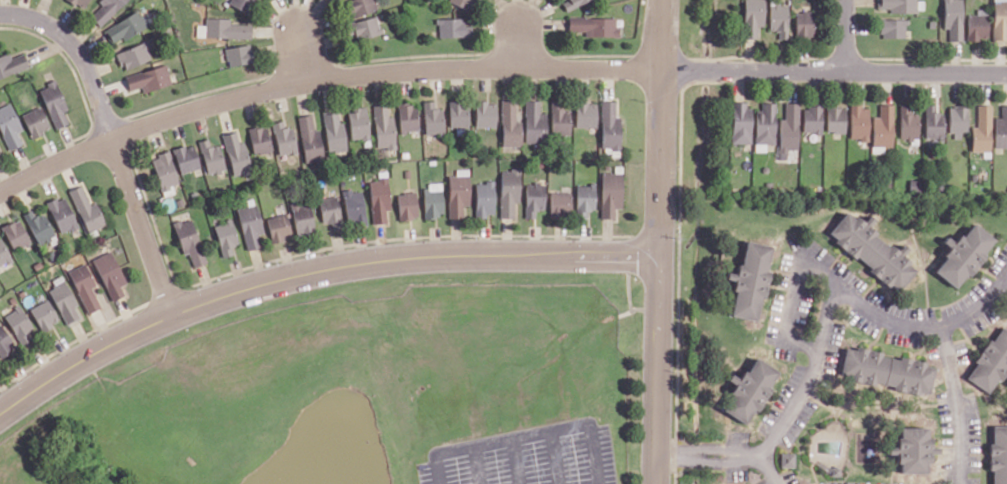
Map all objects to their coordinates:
building: (79, 3)
building: (463, 3)
building: (573, 3)
building: (241, 5)
building: (899, 5)
building: (360, 7)
building: (104, 10)
road: (510, 10)
road: (1, 13)
building: (751, 17)
building: (777, 19)
building: (954, 20)
building: (1000, 20)
building: (804, 23)
building: (593, 25)
building: (893, 26)
building: (124, 27)
building: (366, 27)
building: (455, 27)
building: (978, 27)
building: (224, 28)
road: (845, 34)
road: (519, 44)
building: (133, 54)
building: (238, 54)
road: (303, 57)
building: (12, 64)
road: (493, 67)
building: (148, 78)
street lamp: (473, 79)
road: (406, 80)
road: (607, 82)
building: (53, 104)
building: (458, 112)
building: (486, 113)
building: (586, 115)
building: (408, 117)
building: (433, 117)
building: (559, 119)
building: (811, 119)
building: (834, 119)
building: (35, 121)
building: (511, 121)
building: (908, 121)
building: (958, 121)
building: (739, 122)
building: (858, 122)
building: (933, 122)
building: (534, 123)
building: (359, 124)
building: (609, 125)
building: (882, 125)
building: (763, 126)
building: (9, 127)
building: (384, 127)
building: (1001, 128)
building: (787, 129)
building: (982, 129)
building: (334, 131)
building: (260, 138)
building: (285, 138)
road: (113, 139)
building: (311, 139)
building: (237, 153)
building: (0, 155)
building: (212, 157)
building: (187, 158)
building: (540, 163)
building: (165, 171)
building: (976, 176)
building: (914, 184)
building: (939, 185)
building: (458, 192)
building: (509, 193)
building: (610, 193)
building: (584, 197)
building: (484, 198)
building: (533, 198)
building: (433, 199)
building: (379, 200)
building: (558, 204)
building: (407, 205)
building: (355, 207)
building: (87, 210)
building: (331, 211)
building: (62, 214)
building: (303, 217)
building: (251, 226)
building: (40, 227)
building: (279, 227)
building: (16, 234)
road: (606, 236)
building: (227, 237)
building: (190, 241)
road: (382, 241)
road: (411, 242)
road: (658, 242)
building: (871, 251)
building: (4, 253)
road: (312, 253)
building: (964, 254)
parking lot: (1000, 261)
building: (38, 264)
road: (313, 270)
road: (991, 272)
building: (110, 274)
parking lot: (849, 276)
building: (751, 279)
road: (207, 281)
building: (85, 287)
street lamp: (783, 290)
parking lot: (967, 297)
road: (851, 298)
building: (64, 302)
building: (44, 315)
parking lot: (862, 321)
building: (19, 325)
road: (83, 337)
building: (5, 342)
building: (991, 360)
building: (887, 369)
road: (808, 378)
parking lot: (788, 385)
building: (750, 388)
road: (956, 402)
road: (776, 407)
parking lot: (944, 410)
parking lot: (768, 419)
parking lot: (797, 421)
street lamp: (949, 433)
road: (526, 434)
parking lot: (734, 436)
road: (704, 447)
building: (913, 448)
street lamp: (713, 454)
building: (999, 454)
parking lot: (525, 456)
road: (553, 456)
street lamp: (778, 458)
building: (788, 458)
road: (514, 460)
road: (704, 460)
road: (475, 464)
road: (769, 468)
building: (835, 470)
street lamp: (873, 479)
parking lot: (973, 480)
parking lot: (844, 482)
parking lot: (882, 482)
parking lot: (914, 482)
building: (749, 483)

